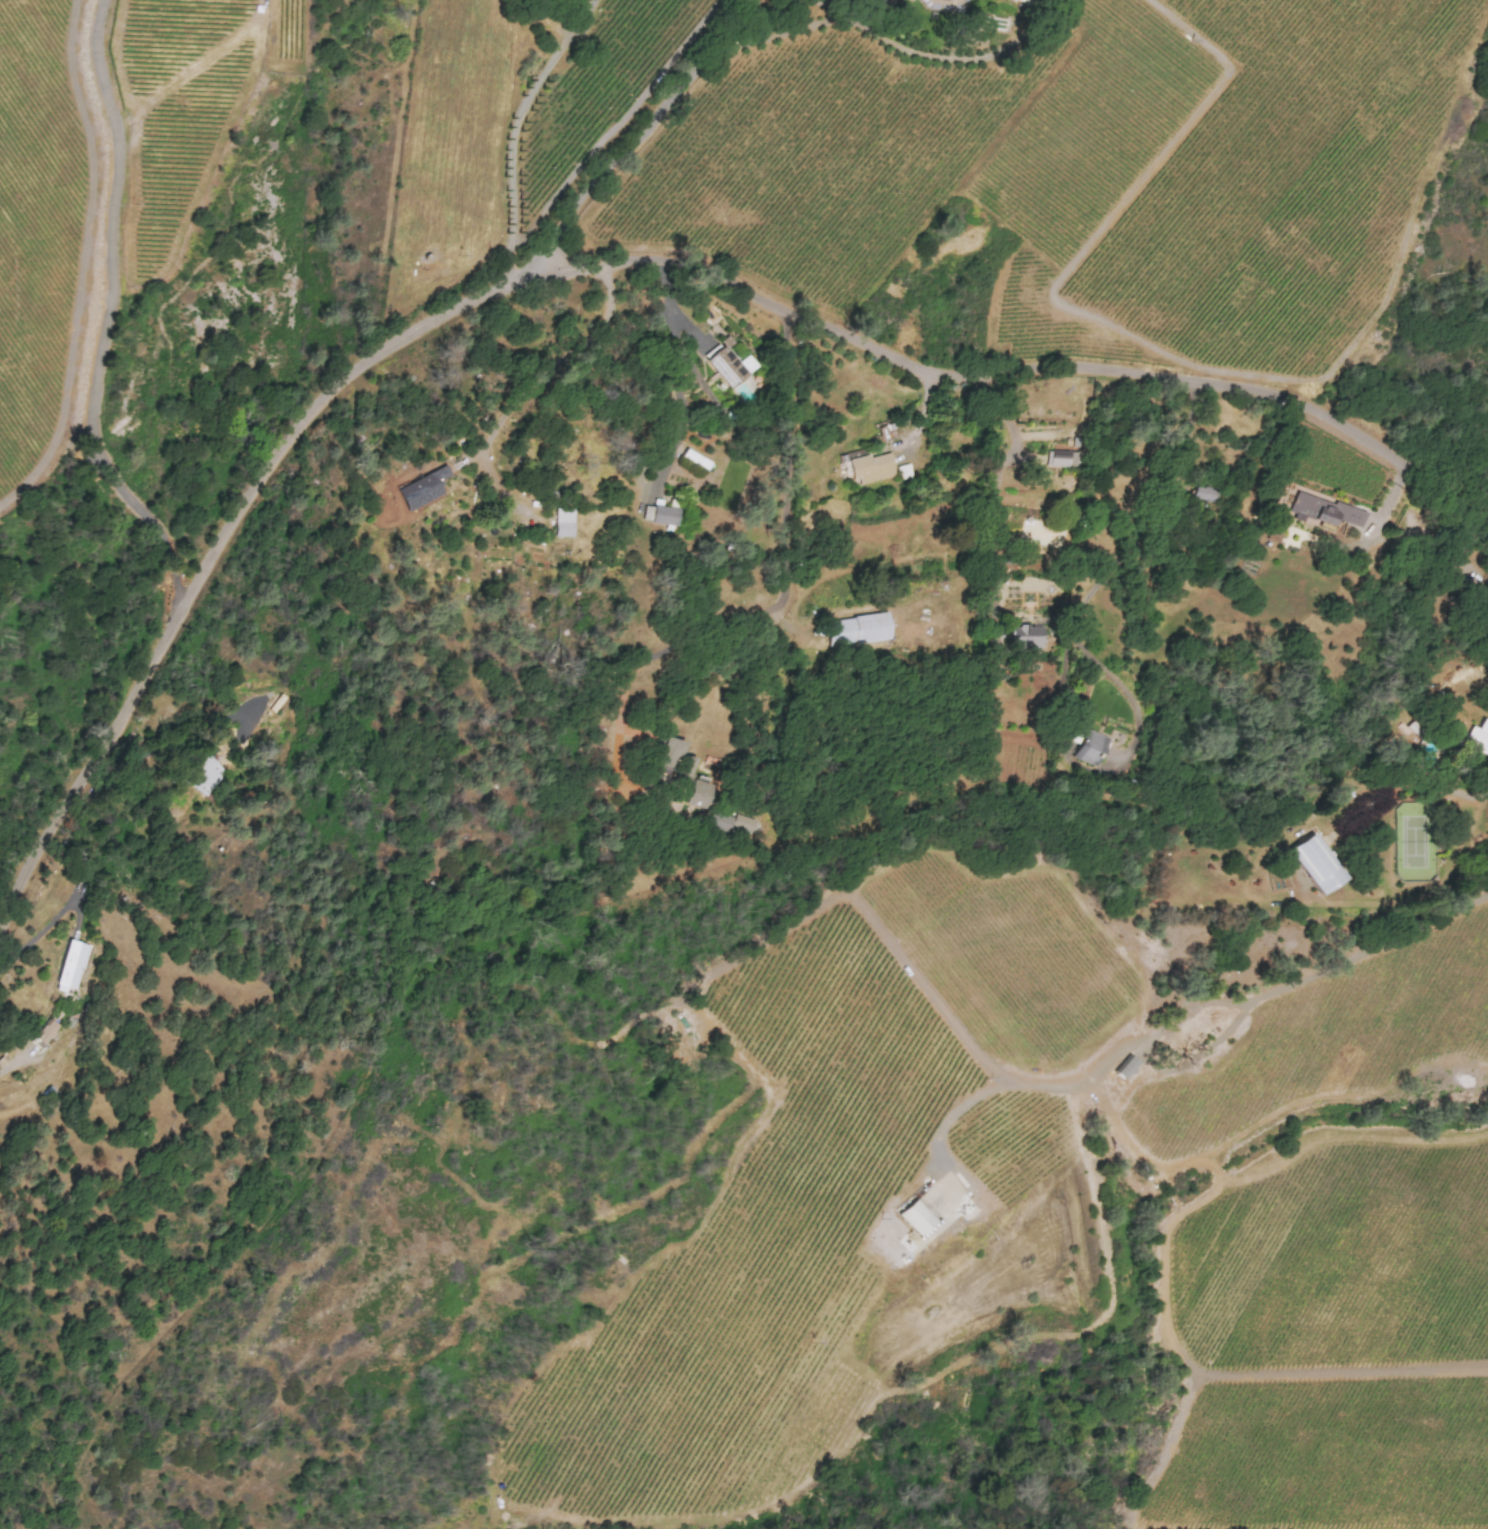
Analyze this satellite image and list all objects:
building: (910, 0)
building: (943, 5)
road: (514, 128)
road: (637, 139)
road: (105, 310)
road: (1011, 366)
building: (727, 367)
road: (538, 387)
building: (1061, 459)
building: (871, 468)
building: (1202, 494)
building: (1322, 511)
building: (658, 514)
building: (561, 525)
building: (1272, 536)
road: (210, 560)
road: (784, 569)
building: (856, 630)
building: (1024, 637)
building: (1479, 737)
building: (1086, 748)
building: (205, 776)
road: (1409, 776)
building: (695, 794)
building: (730, 822)
building: (1313, 865)
building: (69, 966)
road: (1186, 1010)
building: (44, 1033)
building: (1124, 1069)
building: (915, 1217)

